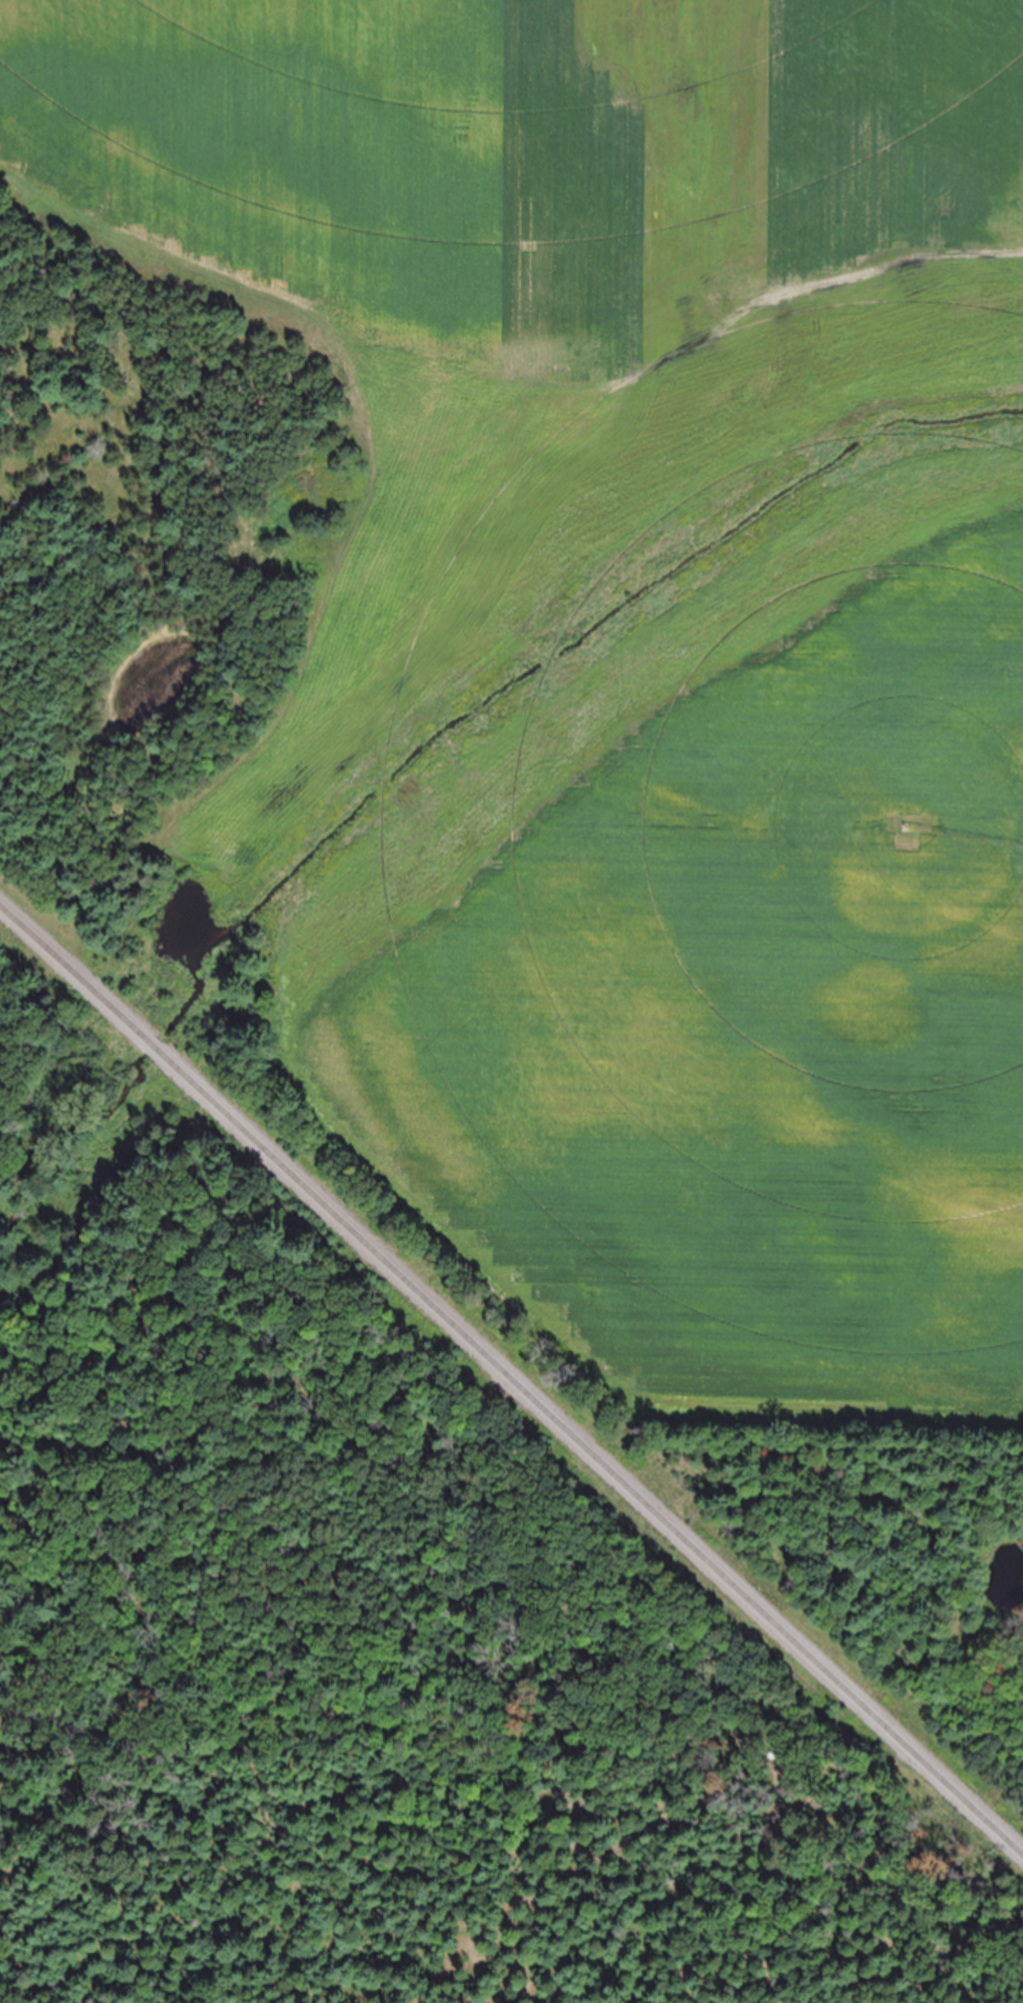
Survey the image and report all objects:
railway: (511, 1388)

